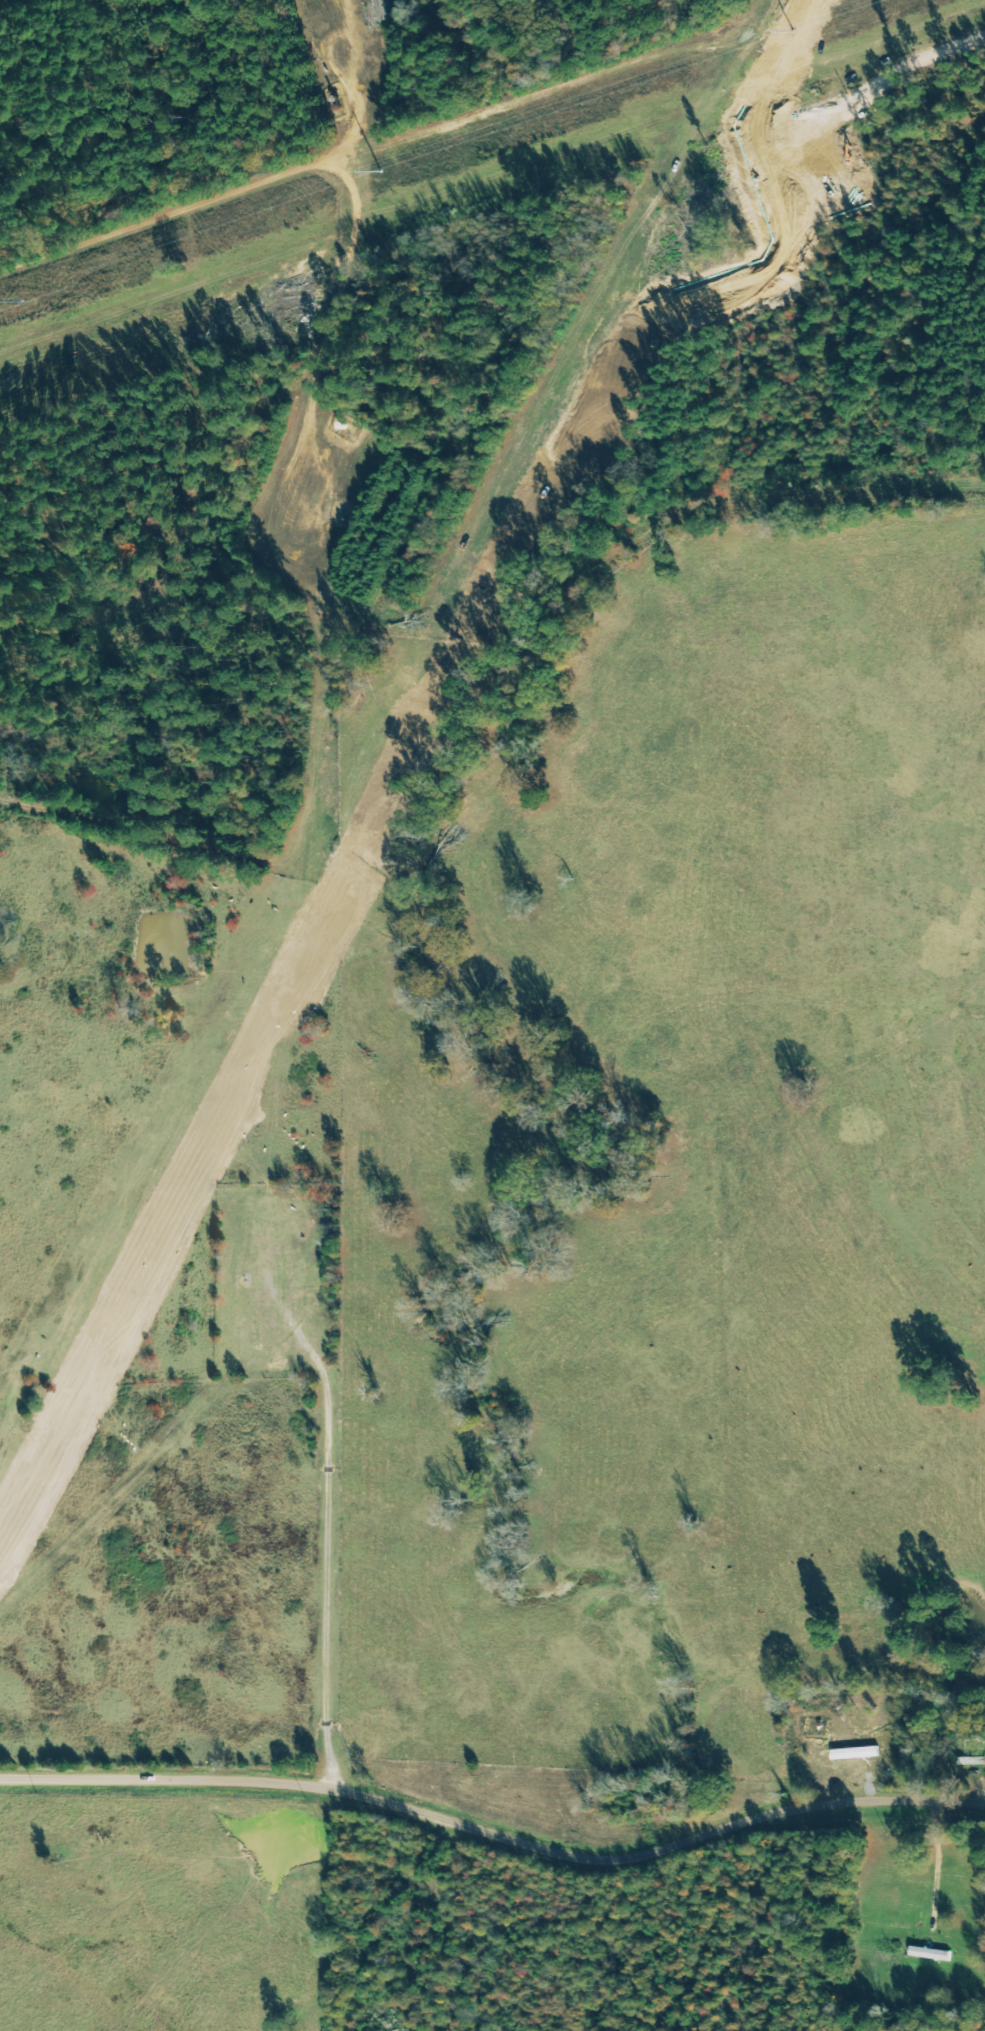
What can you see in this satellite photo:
power tower: (792, 33)
road: (905, 127)
power tower: (383, 173)
road: (315, 256)
power tower: (0, 305)
road: (491, 1843)

